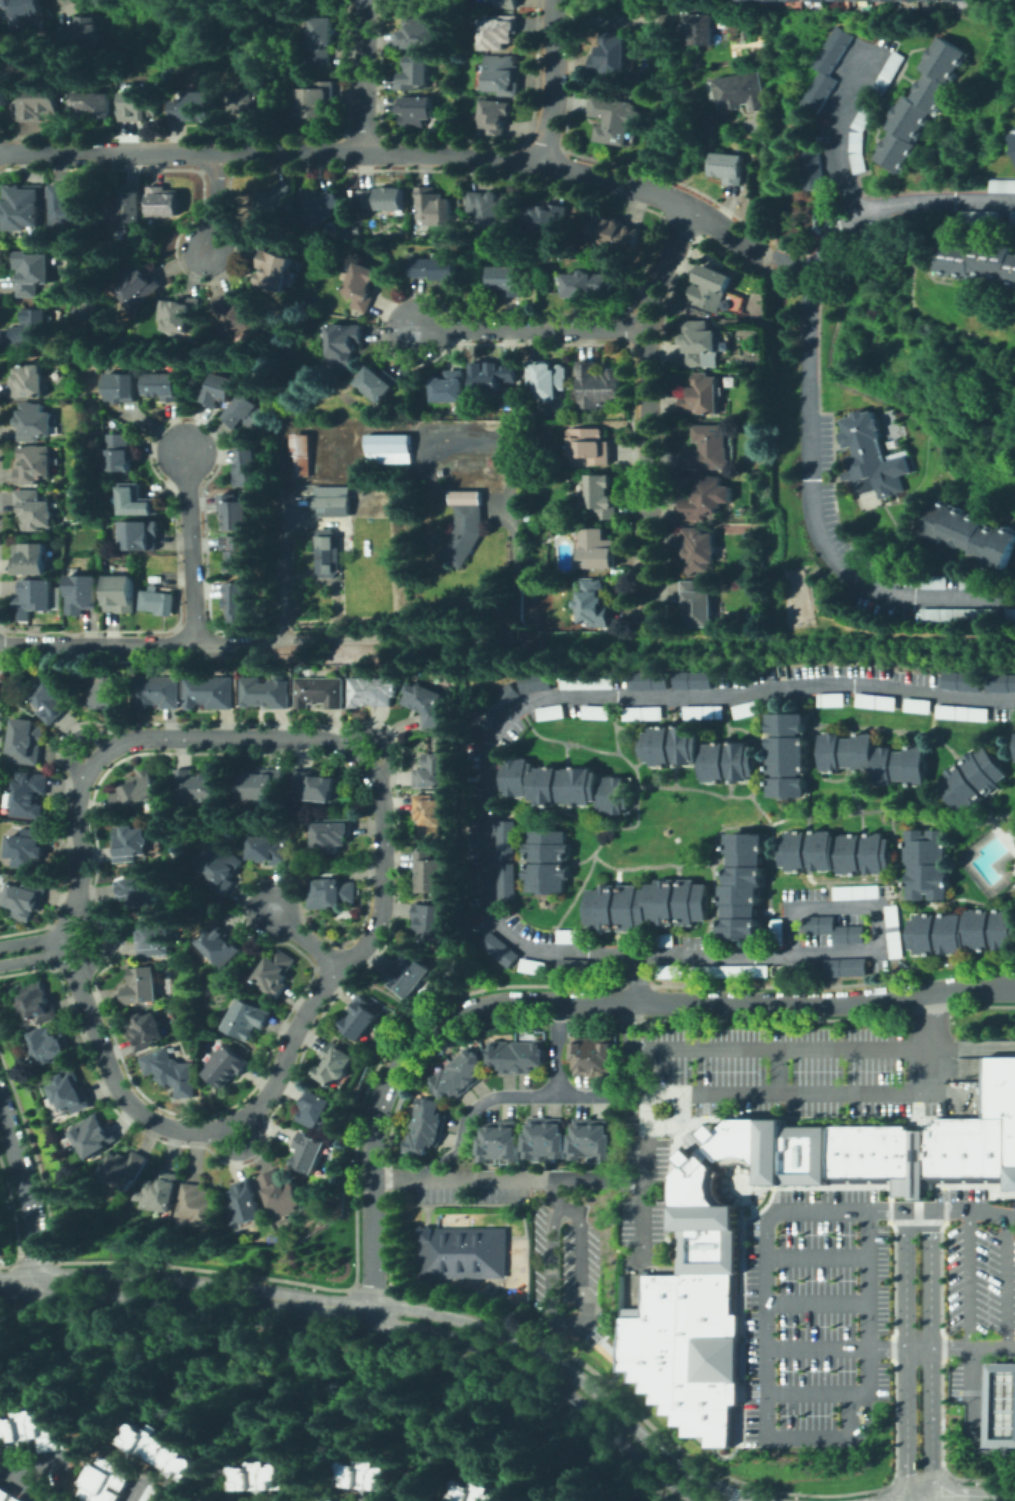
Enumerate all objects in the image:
building: (747, 0)
building: (764, 0)
building: (791, 0)
building: (814, 0)
building: (834, 0)
building: (854, 0)
building: (864, 0)
building: (887, 0)
building: (907, 0)
building: (954, 0)
road: (72, 2)
building: (504, 4)
building: (24, 8)
road: (608, 22)
building: (699, 28)
building: (500, 32)
building: (418, 33)
building: (82, 34)
building: (320, 40)
building: (611, 54)
building: (306, 61)
building: (825, 73)
building: (415, 74)
building: (503, 75)
building: (887, 76)
road: (365, 77)
road: (556, 83)
building: (743, 92)
building: (4, 94)
building: (314, 100)
building: (246, 103)
building: (40, 104)
building: (921, 105)
building: (92, 106)
building: (139, 106)
building: (194, 107)
building: (416, 111)
building: (495, 116)
building: (863, 117)
building: (613, 119)
road: (839, 129)
building: (1014, 129)
building: (1013, 139)
building: (857, 142)
building: (1013, 149)
road: (391, 154)
building: (859, 164)
building: (729, 168)
building: (811, 171)
building: (1002, 186)
road: (759, 187)
building: (382, 199)
building: (164, 201)
building: (275, 201)
road: (217, 204)
building: (319, 205)
building: (24, 206)
building: (432, 206)
building: (72, 208)
building: (490, 209)
building: (126, 210)
building: (546, 218)
building: (979, 218)
building: (1013, 218)
building: (615, 231)
road: (789, 261)
building: (978, 261)
building: (436, 267)
building: (274, 270)
building: (33, 273)
building: (507, 280)
building: (137, 283)
building: (589, 284)
building: (362, 287)
building: (711, 288)
building: (238, 312)
building: (180, 314)
building: (32, 327)
road: (533, 331)
building: (725, 341)
building: (699, 342)
building: (344, 344)
building: (493, 375)
building: (730, 378)
building: (548, 379)
building: (30, 381)
building: (378, 384)
building: (162, 386)
building: (600, 386)
building: (121, 387)
building: (450, 387)
building: (218, 388)
building: (702, 396)
road: (648, 400)
road: (809, 400)
building: (245, 412)
building: (36, 422)
building: (591, 445)
building: (389, 449)
building: (709, 449)
building: (121, 452)
building: (302, 454)
building: (871, 457)
building: (498, 463)
building: (36, 465)
building: (247, 467)
building: (468, 497)
building: (601, 498)
building: (704, 499)
building: (136, 501)
building: (333, 507)
building: (35, 510)
building: (235, 510)
building: (970, 533)
building: (463, 534)
building: (141, 535)
road: (193, 548)
building: (596, 549)
building: (699, 550)
building: (236, 552)
building: (330, 557)
building: (32, 558)
road: (284, 572)
building: (937, 582)
building: (975, 582)
building: (122, 593)
building: (84, 594)
building: (36, 595)
building: (239, 600)
building: (160, 601)
building: (594, 604)
building: (697, 604)
building: (961, 615)
building: (1012, 615)
road: (846, 636)
road: (133, 644)
road: (355, 644)
building: (649, 681)
building: (694, 681)
building: (962, 681)
building: (588, 682)
building: (537, 683)
building: (1001, 683)
building: (158, 691)
building: (211, 691)
building: (373, 691)
building: (321, 692)
building: (107, 693)
building: (266, 693)
building: (54, 700)
building: (502, 700)
building: (832, 700)
building: (876, 702)
building: (426, 703)
building: (917, 705)
building: (748, 710)
building: (552, 712)
building: (597, 712)
building: (705, 712)
building: (644, 713)
building: (962, 713)
road: (505, 718)
building: (1014, 735)
building: (28, 741)
building: (701, 754)
building: (789, 755)
building: (874, 759)
building: (432, 771)
building: (974, 780)
building: (262, 784)
building: (200, 786)
building: (314, 786)
building: (567, 786)
building: (139, 790)
building: (29, 794)
building: (430, 815)
building: (1012, 833)
building: (332, 835)
building: (505, 839)
building: (133, 844)
building: (549, 845)
building: (28, 848)
building: (271, 850)
building: (837, 853)
building: (929, 864)
building: (223, 869)
building: (430, 872)
road: (385, 877)
building: (548, 877)
building: (505, 883)
building: (745, 885)
building: (138, 890)
building: (858, 892)
building: (332, 893)
building: (25, 899)
building: (649, 905)
road: (874, 909)
building: (430, 921)
building: (837, 930)
building: (895, 931)
building: (778, 932)
building: (964, 932)
building: (156, 936)
building: (572, 936)
building: (662, 940)
building: (713, 940)
road: (305, 941)
building: (220, 944)
road: (33, 949)
building: (501, 949)
building: (575, 965)
building: (535, 967)
building: (604, 967)
building: (848, 968)
building: (671, 971)
building: (731, 971)
building: (277, 973)
building: (410, 974)
road: (639, 979)
building: (142, 986)
road: (570, 1002)
building: (38, 1003)
building: (362, 1018)
building: (246, 1019)
road: (629, 1025)
building: (146, 1031)
building: (50, 1046)
road: (558, 1049)
road: (755, 1049)
building: (177, 1052)
building: (579, 1053)
building: (599, 1054)
building: (501, 1055)
building: (528, 1055)
building: (335, 1064)
building: (466, 1065)
building: (227, 1066)
road: (779, 1071)
building: (172, 1072)
building: (445, 1082)
building: (71, 1093)
road: (849, 1093)
road: (516, 1096)
building: (1002, 1104)
building: (314, 1109)
road: (645, 1109)
building: (426, 1111)
road: (917, 1133)
building: (95, 1136)
building: (535, 1137)
building: (554, 1137)
building: (421, 1138)
building: (579, 1138)
building: (599, 1138)
building: (489, 1141)
building: (509, 1141)
building: (948, 1150)
building: (969, 1150)
building: (994, 1150)
building: (310, 1151)
road: (245, 1152)
building: (930, 1153)
building: (834, 1154)
building: (847, 1154)
building: (862, 1154)
building: (881, 1154)
building: (902, 1154)
building: (126, 1169)
road: (417, 1176)
road: (917, 1178)
building: (918, 1178)
road: (530, 1179)
building: (161, 1192)
road: (554, 1193)
building: (282, 1194)
building: (697, 1194)
road: (28, 1197)
road: (917, 1197)
building: (246, 1204)
building: (201, 1205)
road: (647, 1214)
building: (464, 1253)
road: (817, 1256)
road: (157, 1275)
road: (968, 1280)
road: (766, 1282)
road: (1007, 1282)
road: (18, 1284)
building: (691, 1293)
road: (154, 1296)
parking lot: (860, 1301)
road: (818, 1303)
road: (294, 1304)
road: (343, 1309)
road: (380, 1314)
road: (575, 1325)
road: (932, 1354)
road: (907, 1355)
building: (695, 1365)
road: (995, 1367)
road: (766, 1372)
road: (576, 1375)
building: (649, 1376)
road: (995, 1379)
road: (557, 1386)
road: (827, 1395)
building: (1001, 1404)
gas station: (1001, 1404)
road: (995, 1406)
building: (683, 1409)
road: (976, 1415)
road: (995, 1418)
road: (869, 1423)
road: (995, 1429)
building: (33, 1434)
road: (997, 1442)
building: (166, 1451)
road: (33, 1463)
building: (371, 1474)
building: (265, 1476)
building: (110, 1480)
road: (27, 1485)
road: (140, 1492)
building: (479, 1492)
building: (7, 1494)
building: (158, 1494)
road: (972, 1494)
road: (731, 1497)
building: (23, 1499)

